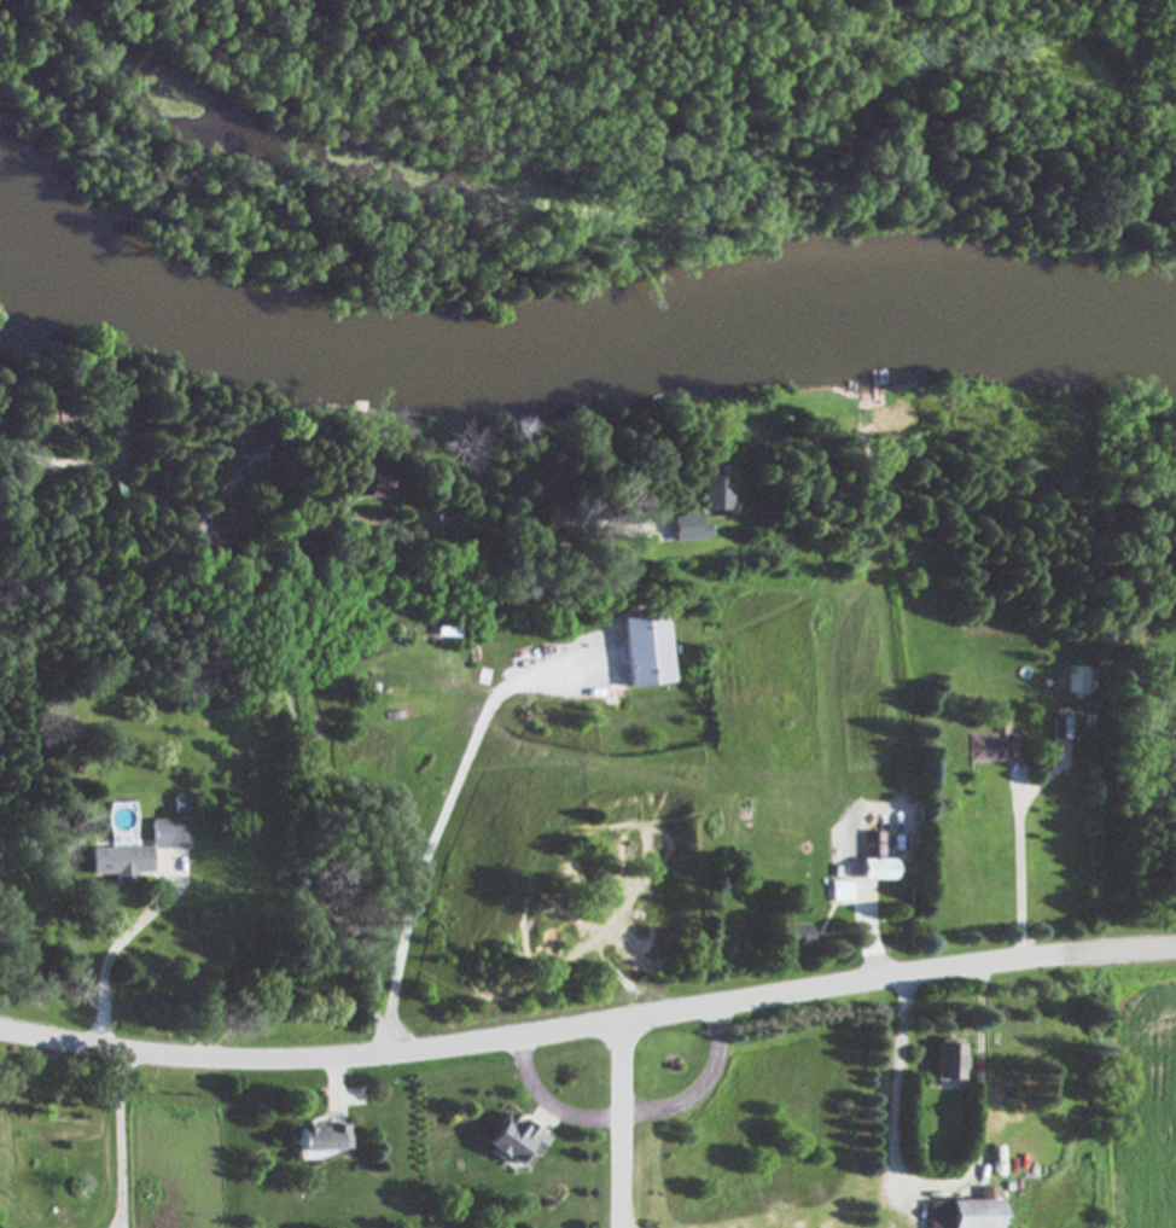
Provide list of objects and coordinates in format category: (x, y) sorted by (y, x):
river: (564, 360)
building: (110, 484)
building: (380, 484)
building: (715, 488)
building: (687, 529)
building: (645, 650)
building: (1078, 680)
building: (1175, 694)
building: (1063, 728)
building: (991, 745)
building: (168, 834)
building: (874, 859)
building: (118, 862)
road: (1020, 872)
road: (347, 889)
building: (839, 892)
building: (794, 935)
road: (874, 938)
road: (112, 955)
road: (588, 1025)
building: (948, 1061)
road: (336, 1078)
road: (635, 1112)
road: (624, 1124)
road: (122, 1137)
building: (320, 1139)
building: (514, 1140)
road: (939, 1185)
building: (965, 1212)

